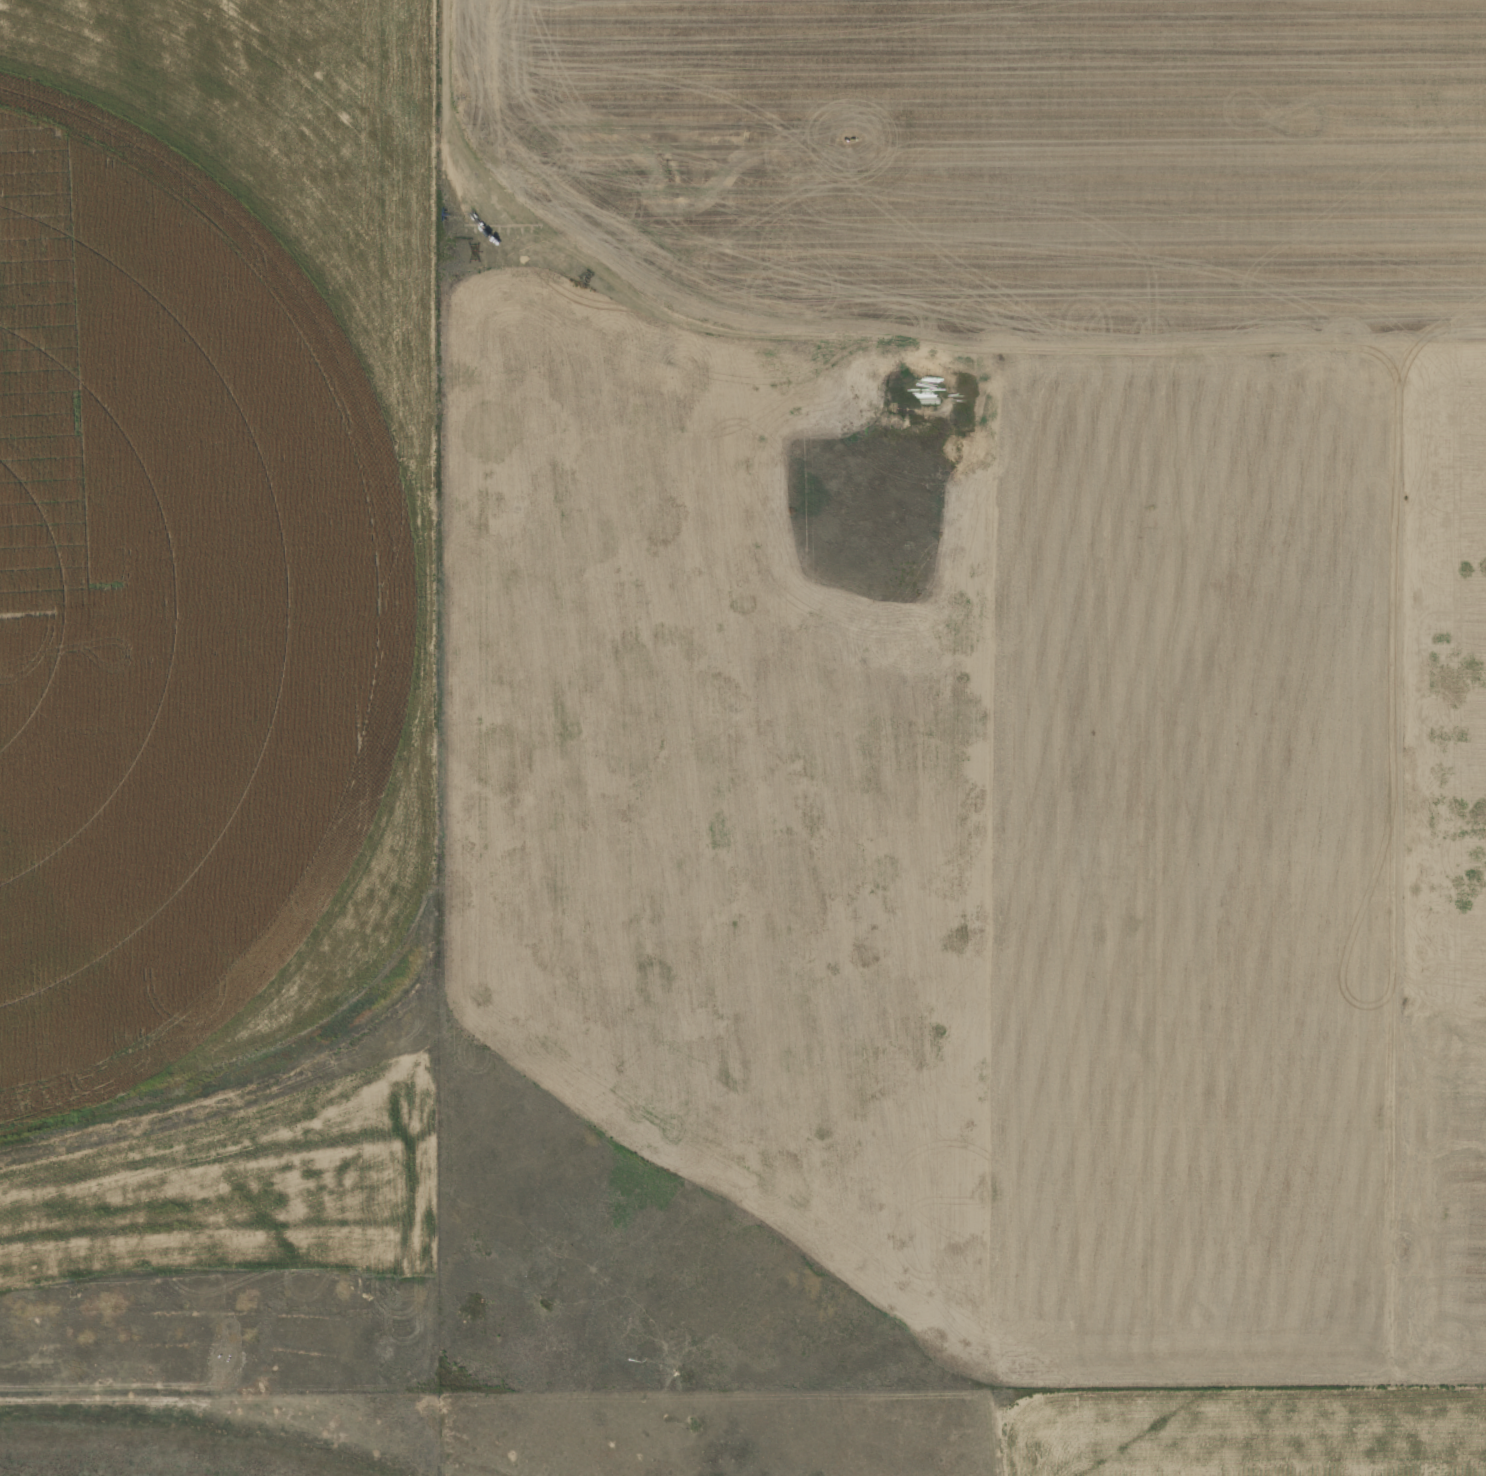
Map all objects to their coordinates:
road: (464, 79)

